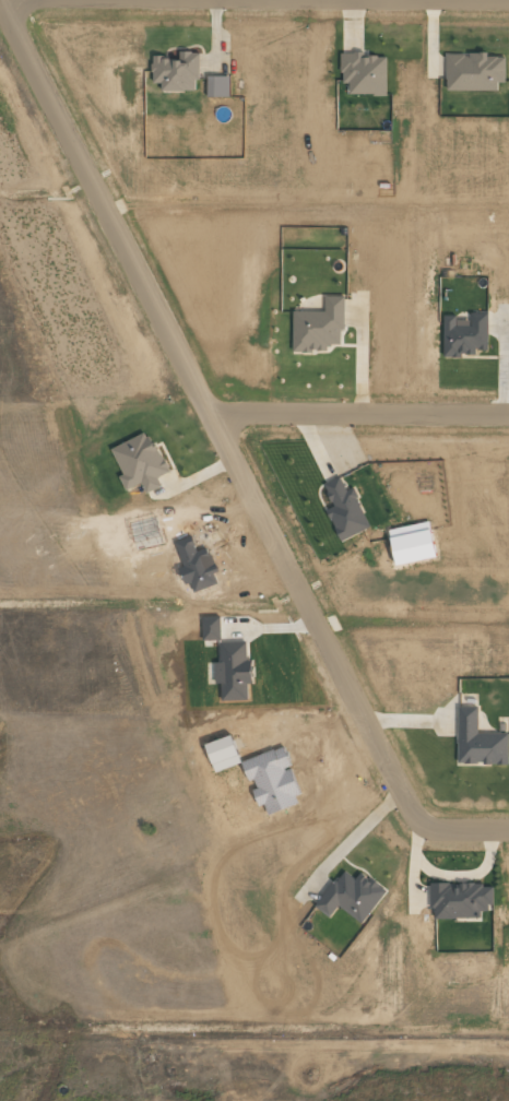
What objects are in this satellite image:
road: (3, 0)
building: (176, 71)
building: (473, 71)
building: (364, 72)
building: (318, 327)
building: (464, 335)
road: (206, 410)
road: (360, 413)
building: (139, 462)
building: (344, 509)
building: (412, 542)
building: (211, 627)
building: (233, 668)
building: (478, 739)
building: (222, 753)
road: (458, 830)
building: (351, 896)
building: (459, 899)

